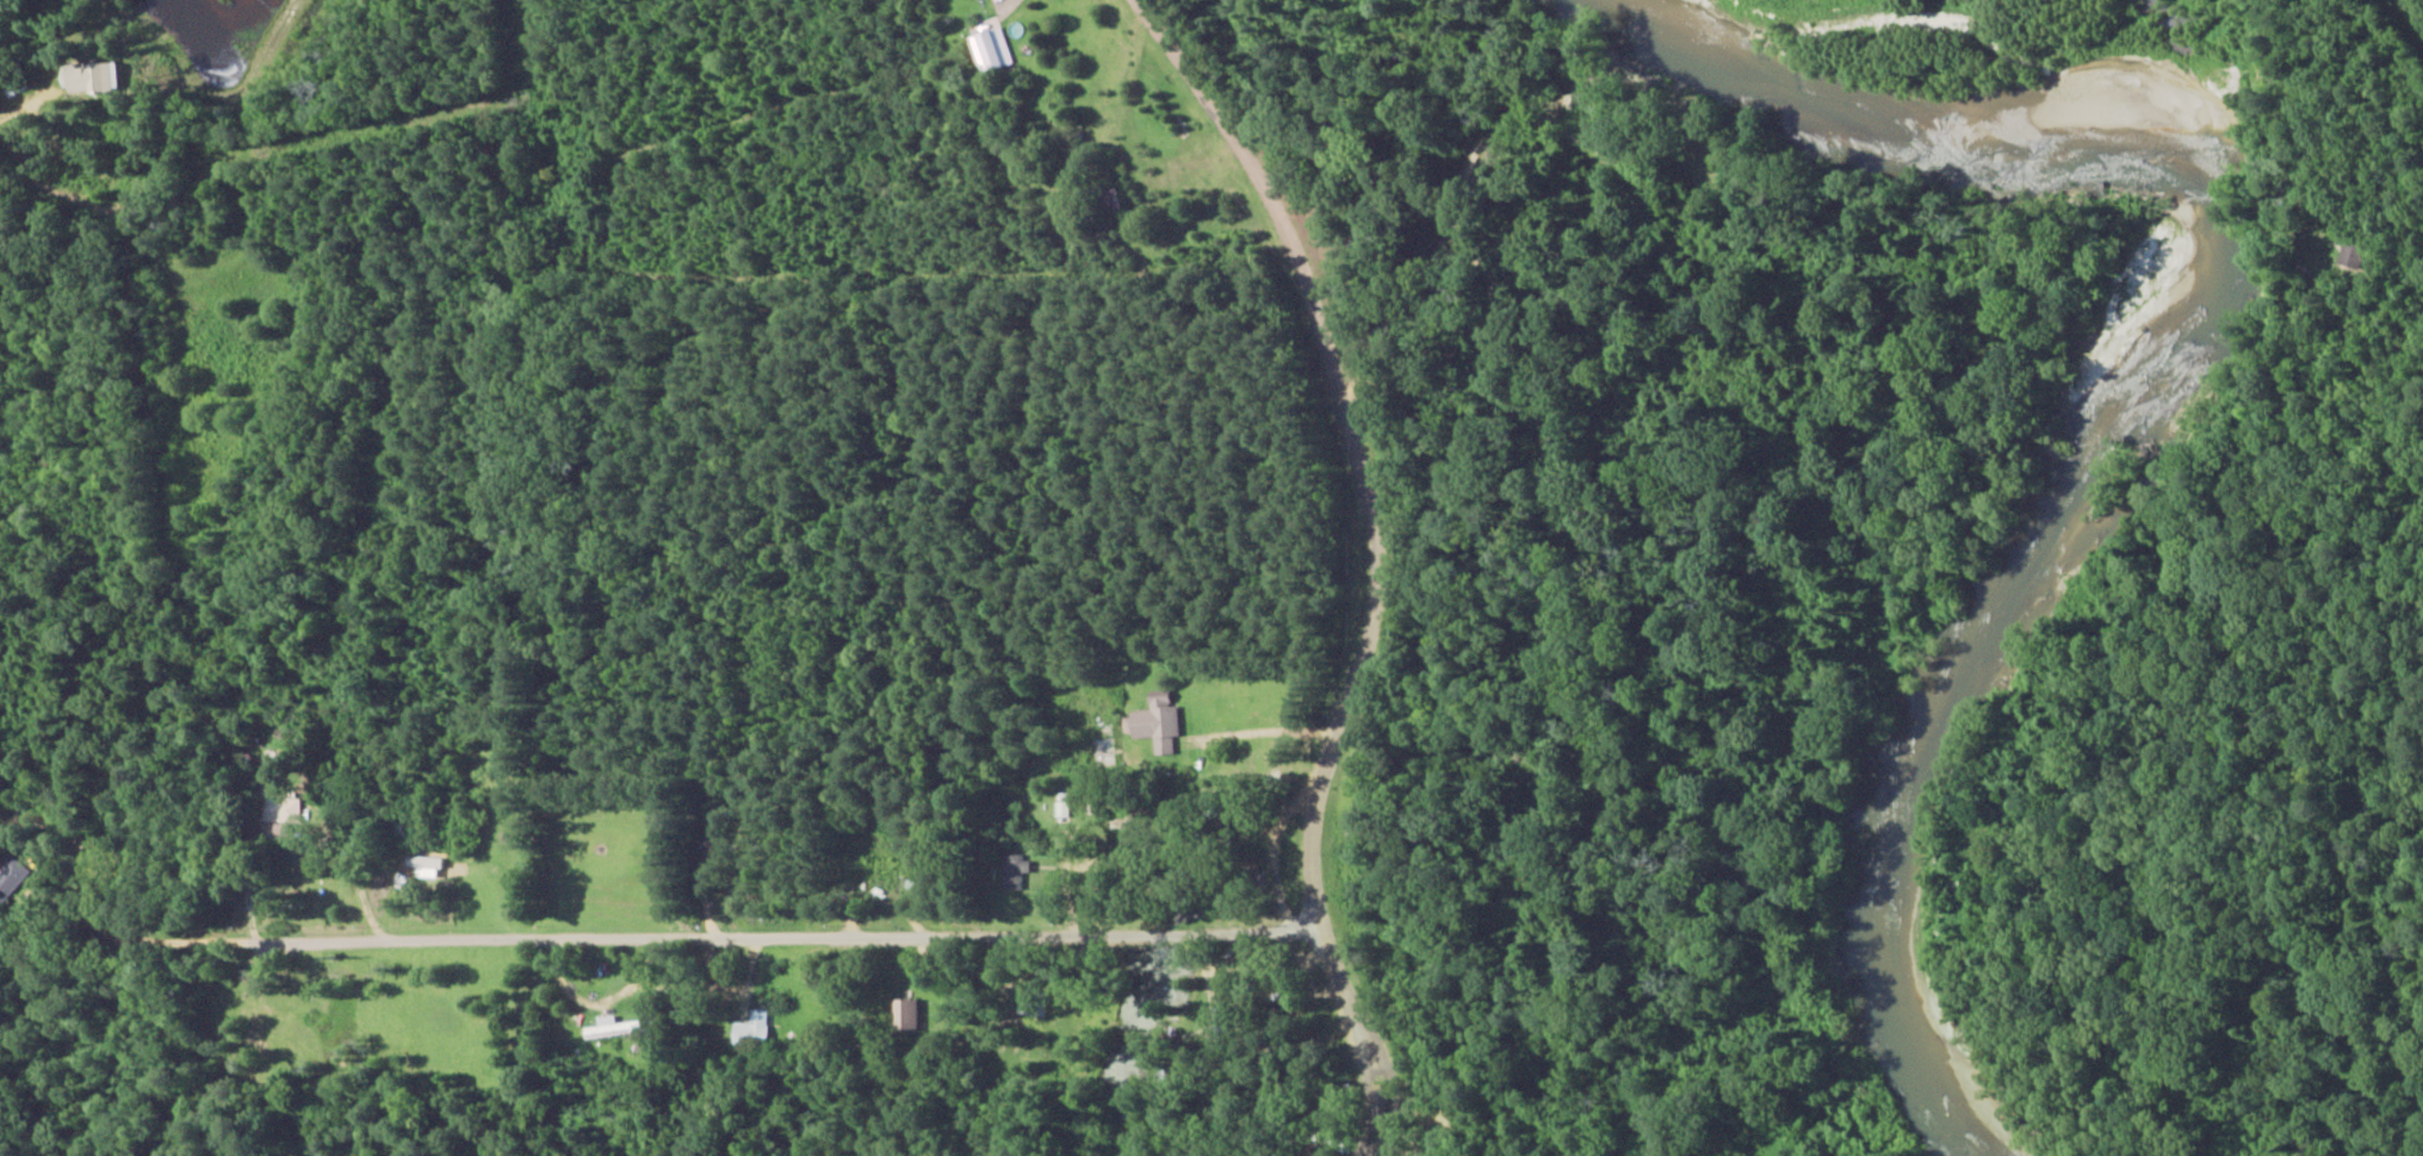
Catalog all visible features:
building: (989, 49)
building: (101, 77)
road: (256, 268)
road: (1326, 551)
building: (1153, 719)
building: (274, 806)
building: (423, 860)
building: (1012, 871)
building: (11, 875)
building: (901, 1013)
building: (612, 1027)
building: (751, 1030)
road: (782, 1033)

